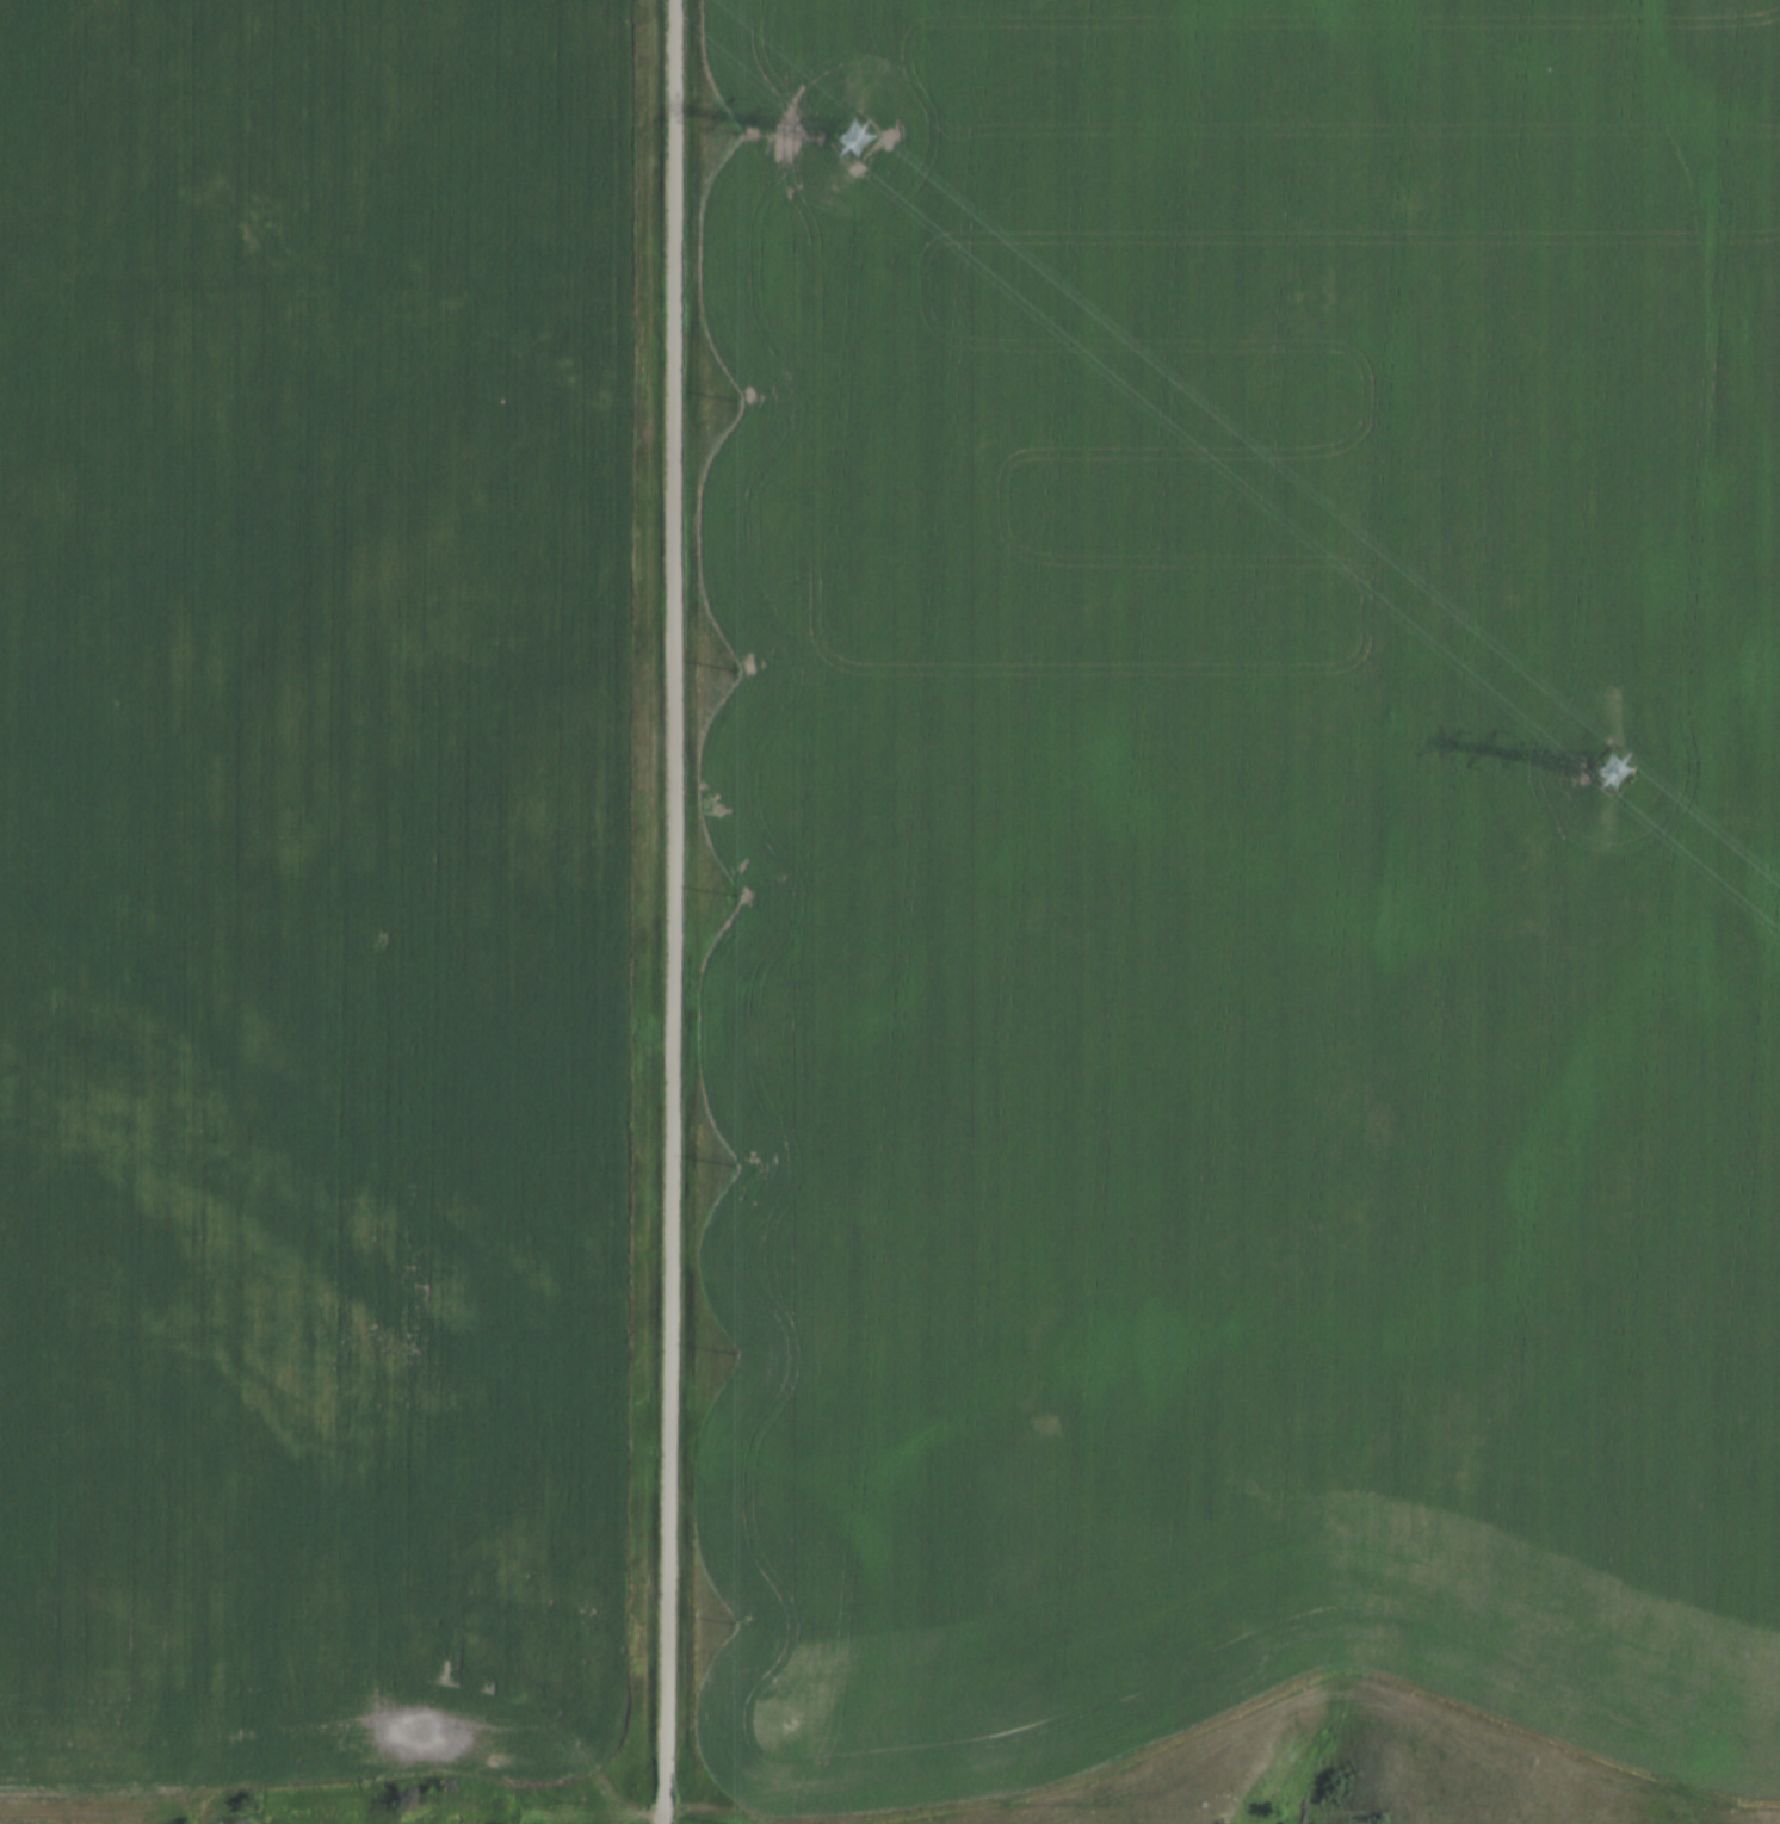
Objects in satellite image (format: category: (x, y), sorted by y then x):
power tower: (865, 140)
power tower: (1631, 772)
road: (674, 911)

